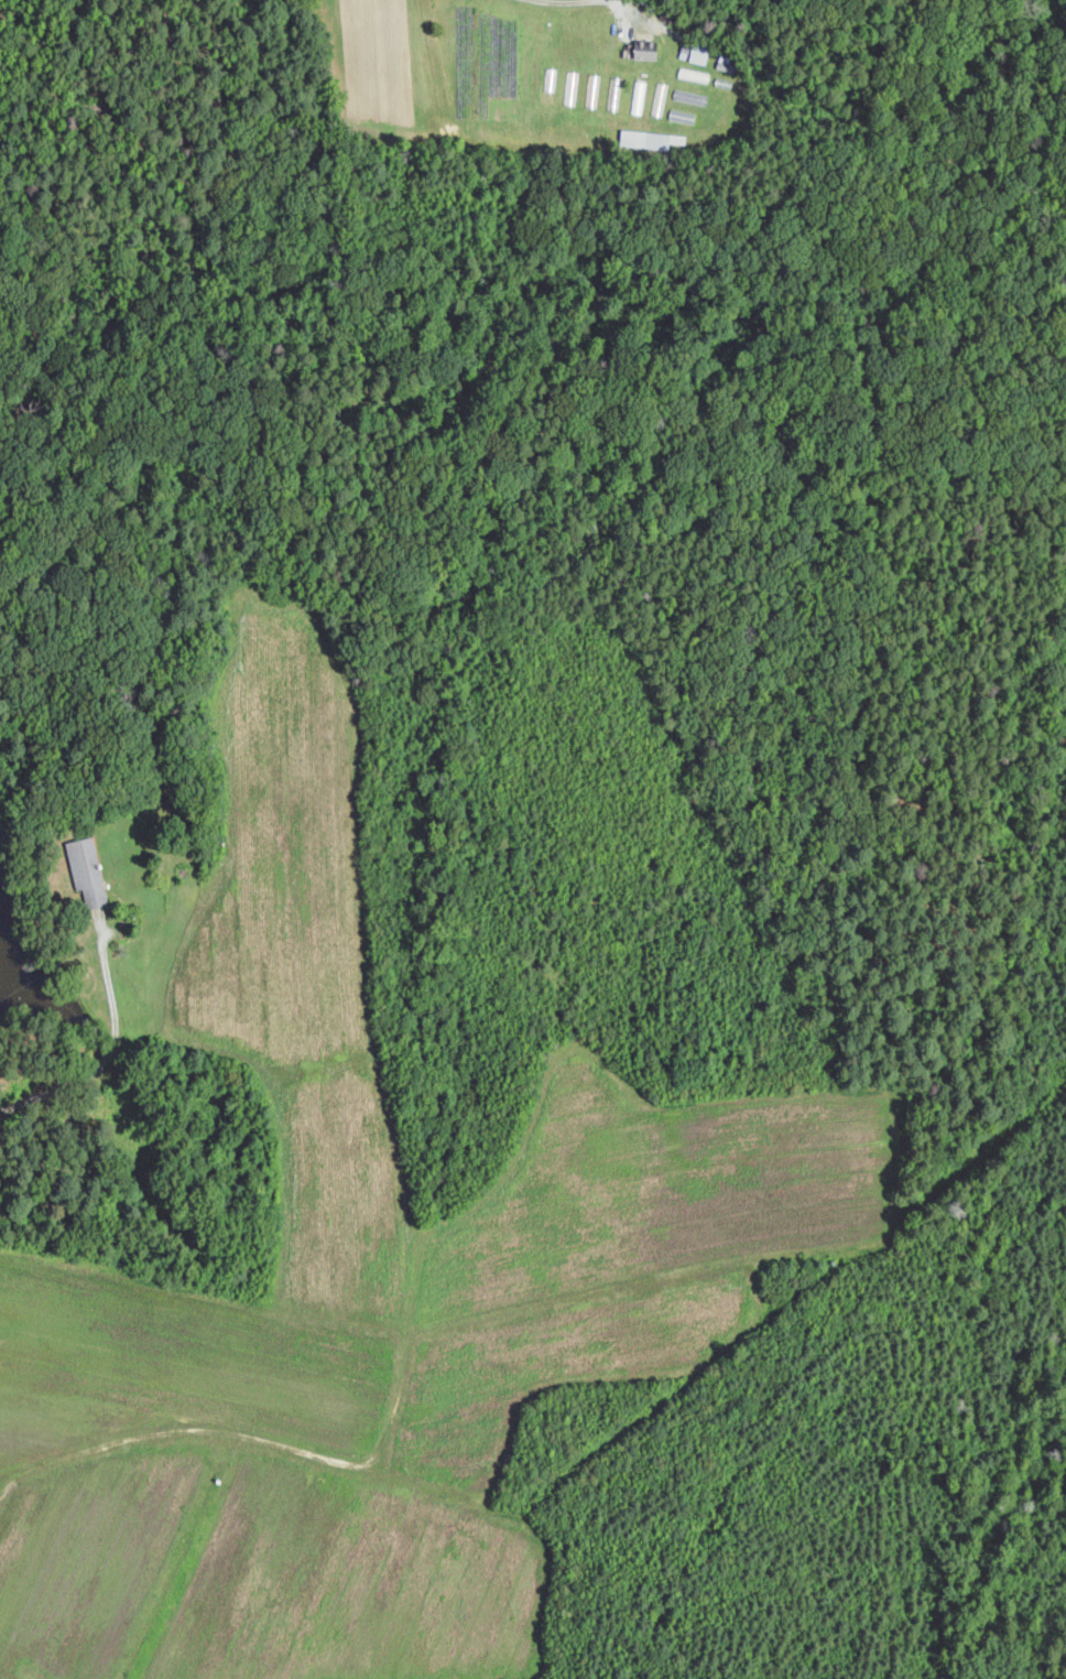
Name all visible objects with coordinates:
road: (559, 0)
road: (619, 2)
building: (650, 50)
building: (697, 51)
building: (685, 95)
building: (649, 140)
building: (90, 871)
road: (112, 1050)

